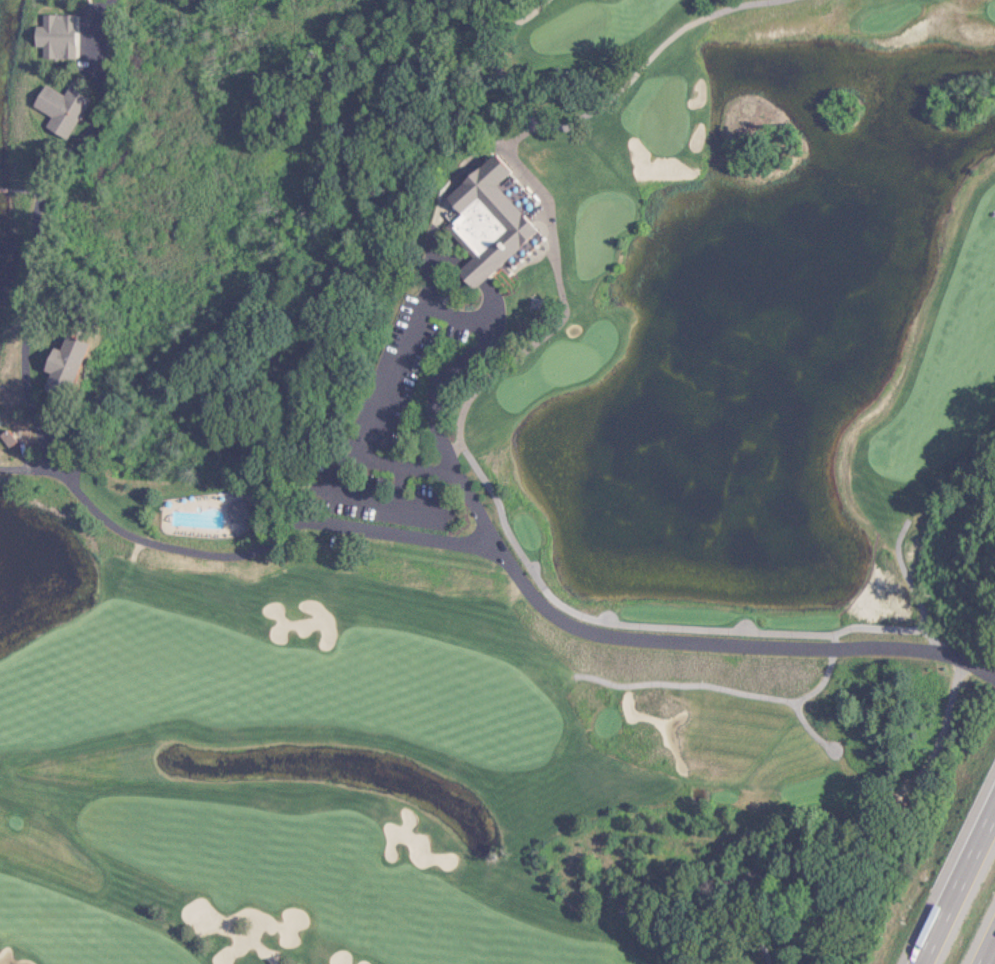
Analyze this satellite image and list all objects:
road: (680, 29)
building: (53, 36)
road: (490, 40)
road: (521, 101)
building: (59, 110)
road: (525, 119)
park: (664, 119)
road: (516, 132)
road: (449, 184)
building: (484, 224)
road: (32, 225)
park: (598, 235)
road: (474, 274)
road: (423, 303)
road: (532, 344)
parking lot: (399, 348)
building: (60, 369)
road: (372, 422)
road: (73, 425)
building: (5, 438)
road: (451, 447)
road: (25, 470)
park: (497, 482)
road: (352, 503)
building: (236, 510)
road: (396, 513)
road: (136, 550)
road: (215, 555)
road: (533, 570)
road: (903, 576)
road: (606, 615)
road: (742, 624)
road: (574, 626)
road: (641, 626)
road: (930, 639)
road: (833, 641)
road: (593, 678)
road: (706, 686)
road: (610, 695)
road: (794, 701)
road: (797, 712)
road: (766, 747)
road: (724, 783)
road: (839, 847)
road: (955, 880)
road: (738, 930)
road: (987, 947)

